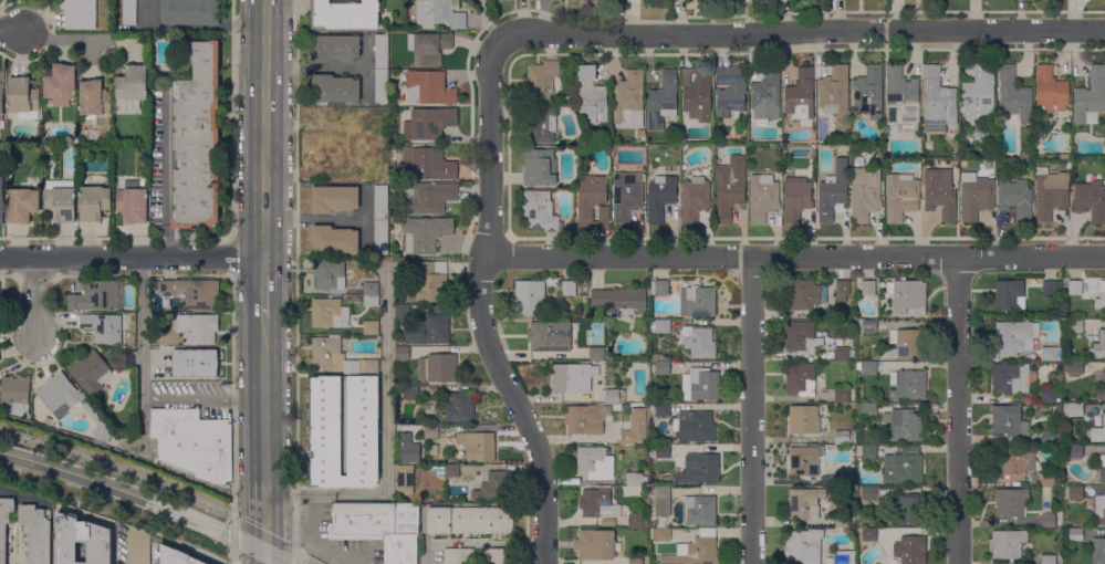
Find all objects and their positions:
building: (563, 0)
building: (763, 0)
building: (567, 1)
building: (575, 1)
building: (584, 1)
building: (592, 1)
building: (601, 1)
building: (616, 1)
building: (551, 2)
building: (128, 12)
building: (188, 12)
building: (79, 13)
building: (438, 13)
building: (344, 14)
road: (192, 27)
road: (799, 31)
road: (11, 32)
road: (67, 38)
building: (334, 48)
building: (428, 48)
building: (381, 69)
building: (539, 82)
building: (61, 84)
building: (132, 86)
building: (335, 88)
building: (428, 88)
building: (834, 90)
building: (730, 91)
building: (1050, 91)
building: (868, 92)
building: (697, 94)
building: (979, 94)
building: (1013, 94)
building: (1, 95)
building: (591, 95)
building: (1090, 95)
building: (765, 97)
building: (800, 97)
building: (938, 97)
building: (22, 98)
building: (94, 98)
building: (901, 100)
building: (661, 101)
building: (629, 102)
road: (231, 118)
building: (428, 124)
building: (541, 125)
road: (264, 128)
building: (1038, 133)
building: (197, 139)
building: (642, 140)
building: (356, 144)
building: (928, 150)
building: (1065, 156)
building: (428, 164)
building: (540, 167)
road: (166, 176)
building: (381, 176)
building: (143, 182)
building: (729, 187)
building: (864, 189)
building: (833, 191)
building: (939, 194)
building: (1050, 194)
building: (591, 196)
building: (625, 196)
building: (976, 196)
building: (659, 197)
building: (900, 197)
building: (427, 198)
building: (762, 198)
building: (795, 198)
building: (1, 199)
building: (60, 199)
building: (334, 199)
building: (694, 199)
building: (1017, 200)
building: (1091, 200)
building: (93, 202)
building: (22, 205)
building: (133, 206)
building: (539, 210)
building: (603, 213)
building: (381, 219)
building: (426, 233)
building: (334, 240)
road: (232, 255)
road: (793, 257)
road: (132, 258)
building: (330, 275)
building: (431, 282)
building: (156, 285)
road: (264, 288)
building: (569, 288)
building: (659, 288)
building: (868, 288)
building: (1049, 288)
building: (1074, 288)
building: (371, 289)
building: (842, 290)
building: (192, 293)
building: (1009, 294)
building: (805, 295)
road: (35, 296)
building: (97, 296)
building: (907, 296)
building: (529, 297)
building: (1101, 297)
building: (621, 300)
building: (698, 301)
building: (1, 302)
building: (371, 302)
building: (166, 303)
road: (479, 307)
building: (402, 312)
building: (329, 314)
building: (159, 318)
building: (660, 326)
building: (868, 326)
building: (1075, 326)
building: (102, 327)
building: (371, 327)
building: (197, 328)
building: (428, 330)
building: (542, 335)
building: (1014, 336)
building: (801, 337)
building: (399, 340)
building: (699, 342)
building: (907, 344)
building: (1098, 346)
building: (402, 354)
building: (596, 354)
building: (842, 354)
building: (1051, 354)
building: (338, 357)
building: (126, 361)
building: (195, 363)
building: (438, 368)
building: (663, 368)
building: (867, 368)
building: (1075, 368)
building: (91, 373)
building: (572, 377)
building: (1012, 378)
building: (800, 379)
building: (1101, 384)
building: (700, 385)
building: (908, 385)
road: (143, 388)
building: (58, 393)
building: (410, 393)
building: (14, 395)
building: (324, 395)
building: (363, 395)
building: (1047, 395)
building: (614, 396)
building: (842, 396)
road: (231, 400)
building: (460, 408)
road: (295, 409)
building: (866, 409)
building: (1075, 409)
building: (663, 410)
road: (751, 410)
road: (959, 410)
building: (584, 419)
building: (803, 419)
building: (1004, 419)
building: (98, 421)
building: (695, 427)
building: (905, 427)
building: (1104, 427)
building: (430, 431)
building: (325, 432)
building: (363, 432)
building: (843, 437)
building: (1047, 437)
building: (627, 438)
building: (191, 441)
road: (264, 441)
road: (386, 441)
building: (477, 446)
building: (406, 448)
building: (661, 450)
building: (868, 451)
building: (1075, 451)
building: (804, 461)
building: (1015, 462)
building: (594, 463)
building: (903, 466)
building: (324, 468)
building: (1102, 468)
building: (700, 470)
road: (121, 471)
building: (445, 471)
building: (634, 479)
building: (842, 479)
building: (1047, 479)
building: (405, 480)
building: (493, 487)
building: (1075, 492)
building: (868, 493)
building: (663, 502)
building: (1010, 502)
building: (598, 503)
building: (804, 503)
building: (700, 510)
building: (907, 510)
building: (1099, 510)
building: (469, 521)
building: (637, 521)
building: (842, 521)
building: (1047, 521)
building: (4, 525)
building: (379, 528)
building: (37, 533)
building: (660, 534)
building: (1075, 534)
road: (264, 535)
road: (233, 536)
building: (868, 537)
building: (82, 541)
building: (1008, 543)
road: (478, 544)
building: (595, 545)
building: (804, 545)
building: (696, 551)
building: (908, 551)
building: (1098, 551)
traffic signals: (267, 553)
building: (458, 555)
building: (498, 555)
road: (233, 556)
road: (303, 556)
building: (842, 557)
building: (635, 560)
building: (1047, 560)
road: (295, 561)

